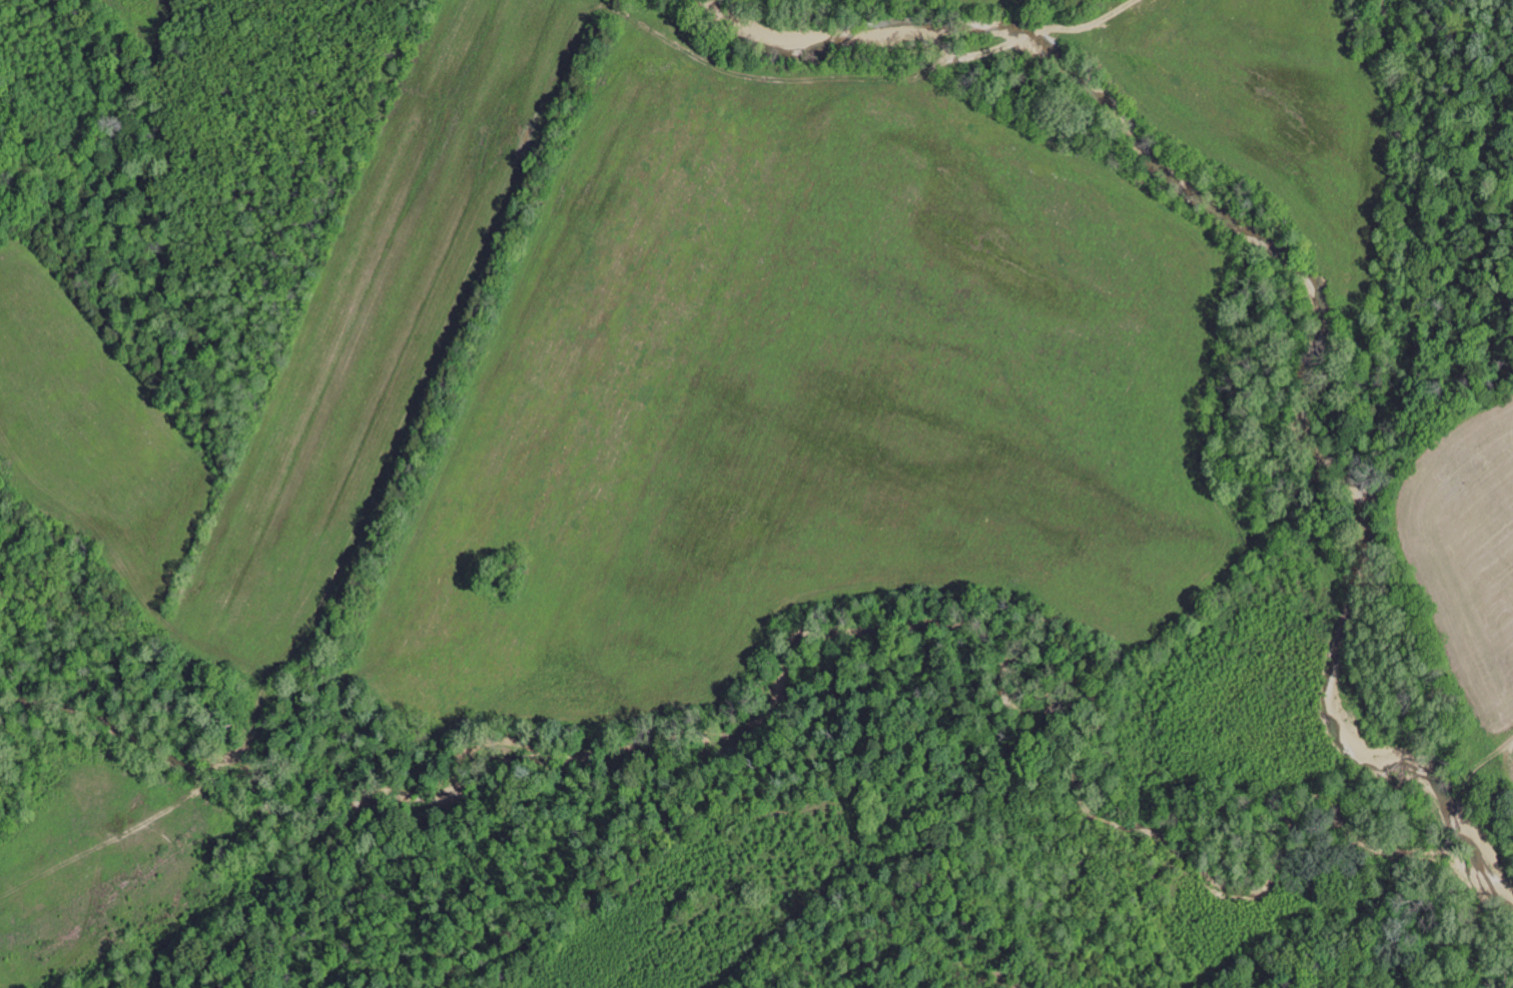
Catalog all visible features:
road: (1496, 754)

